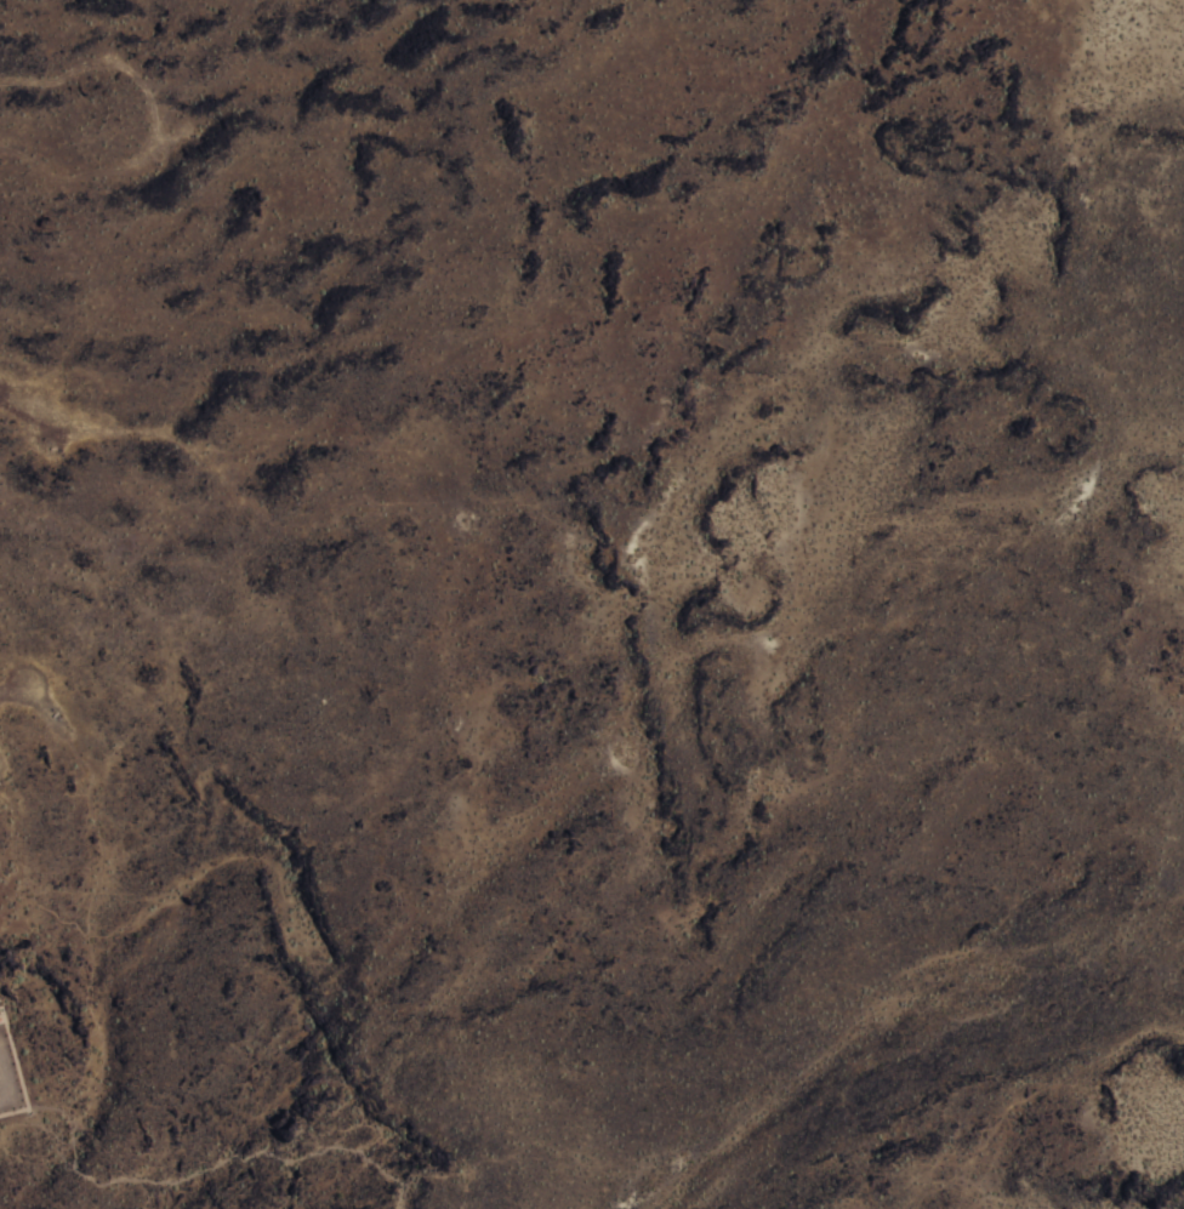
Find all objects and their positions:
parking lot: (16, 1067)
road: (7, 1091)
road: (207, 1164)

